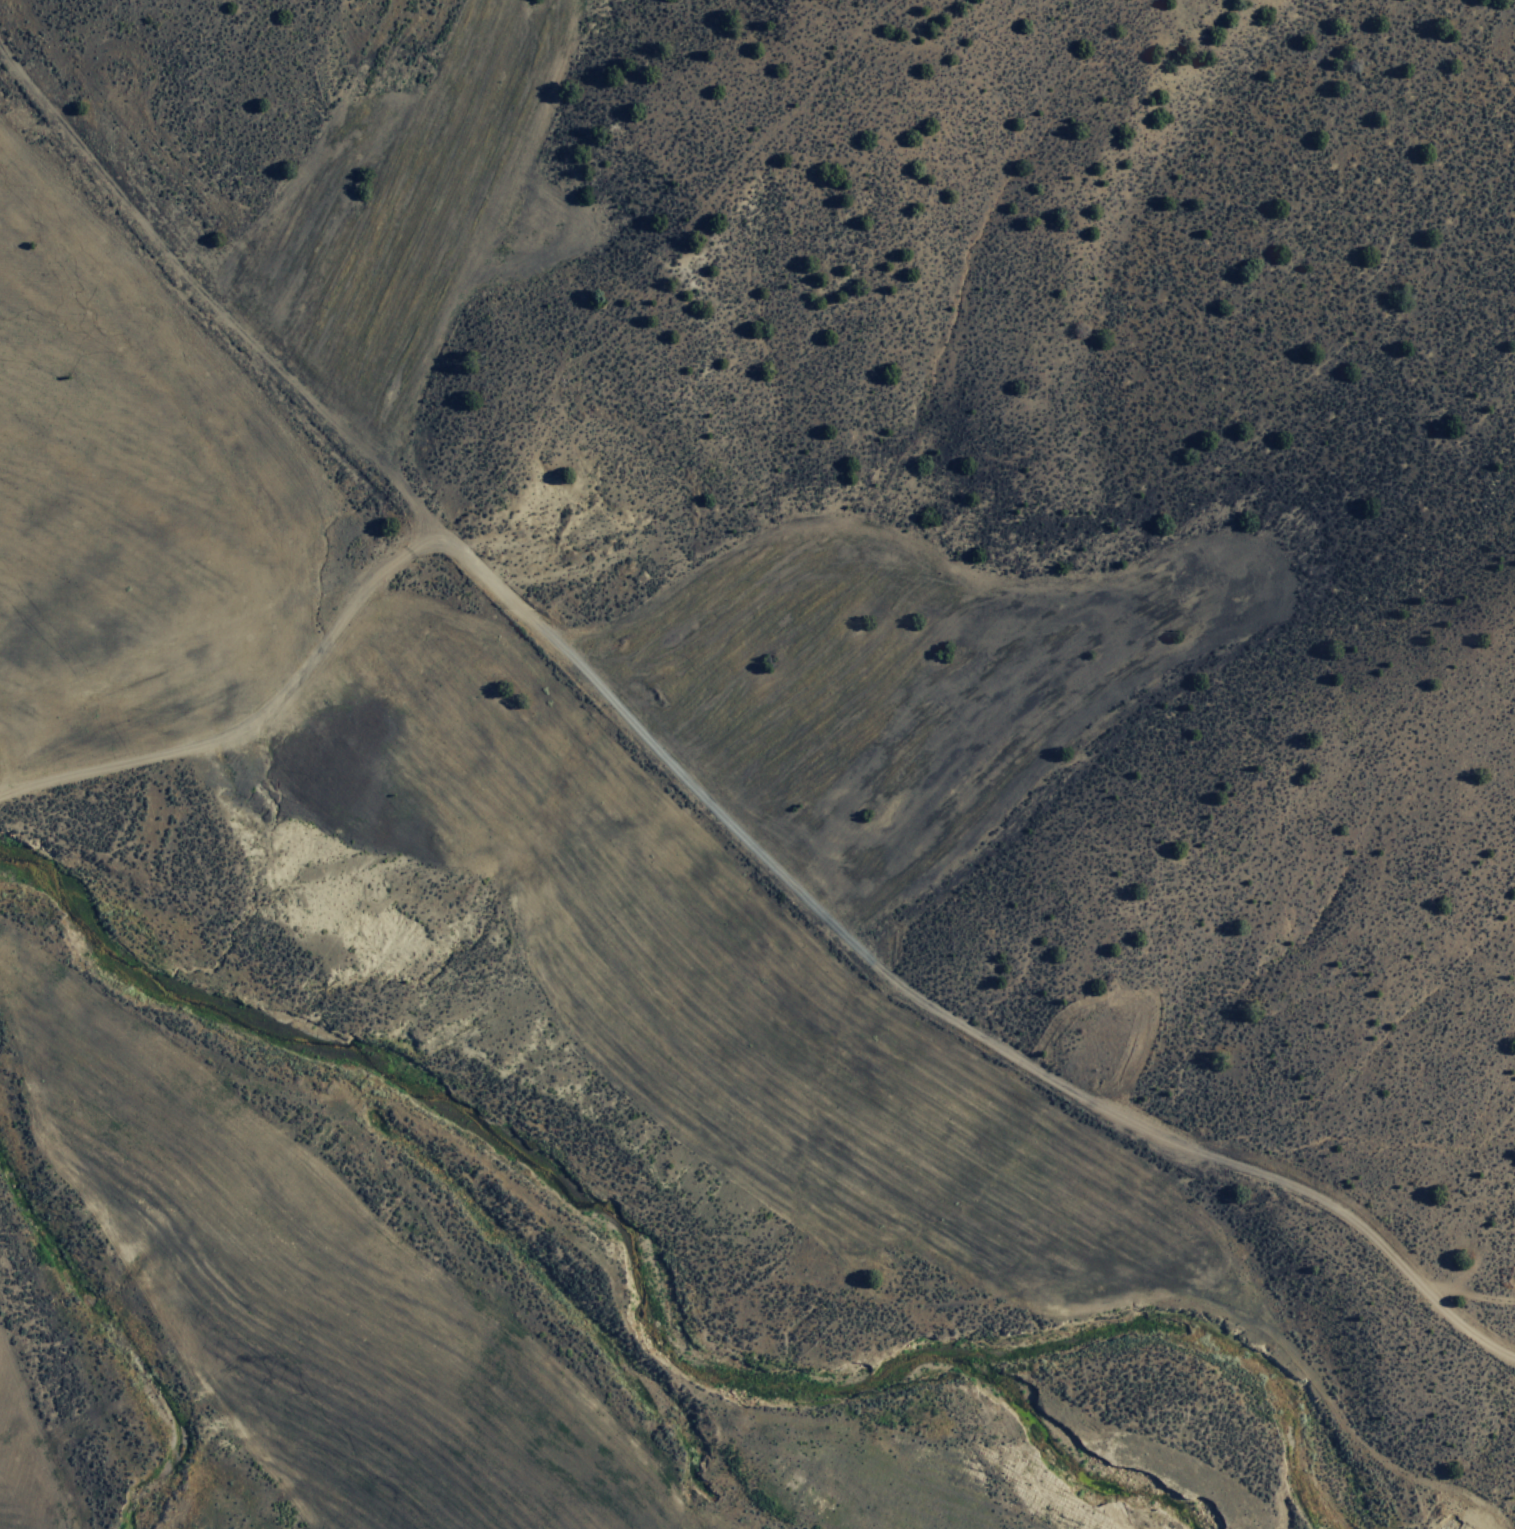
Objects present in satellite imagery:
road: (263, 725)
road: (682, 757)
road: (42, 1422)

